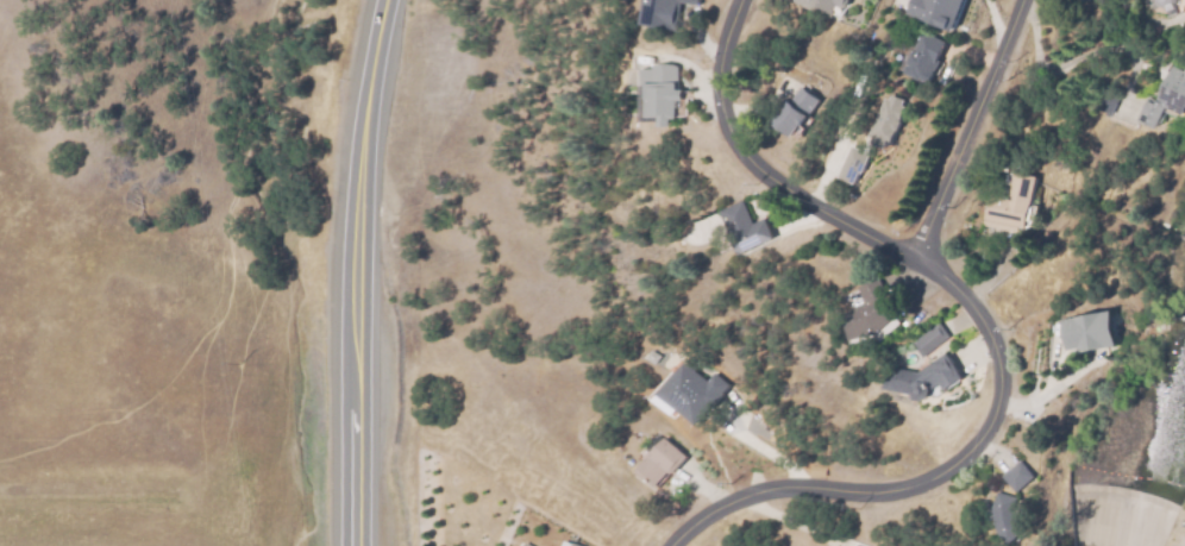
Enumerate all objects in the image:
building: (819, 5)
building: (1161, 5)
building: (934, 12)
building: (658, 13)
building: (917, 58)
building: (656, 96)
building: (1104, 96)
building: (1165, 98)
building: (786, 113)
building: (883, 121)
building: (851, 167)
building: (1005, 202)
building: (740, 225)
road: (869, 233)
road: (353, 271)
building: (866, 308)
building: (1085, 330)
building: (928, 337)
building: (920, 376)
building: (689, 390)
building: (659, 460)
road: (929, 473)
building: (1015, 473)
building: (1001, 513)
building: (565, 544)
building: (572, 544)
building: (522, 545)

